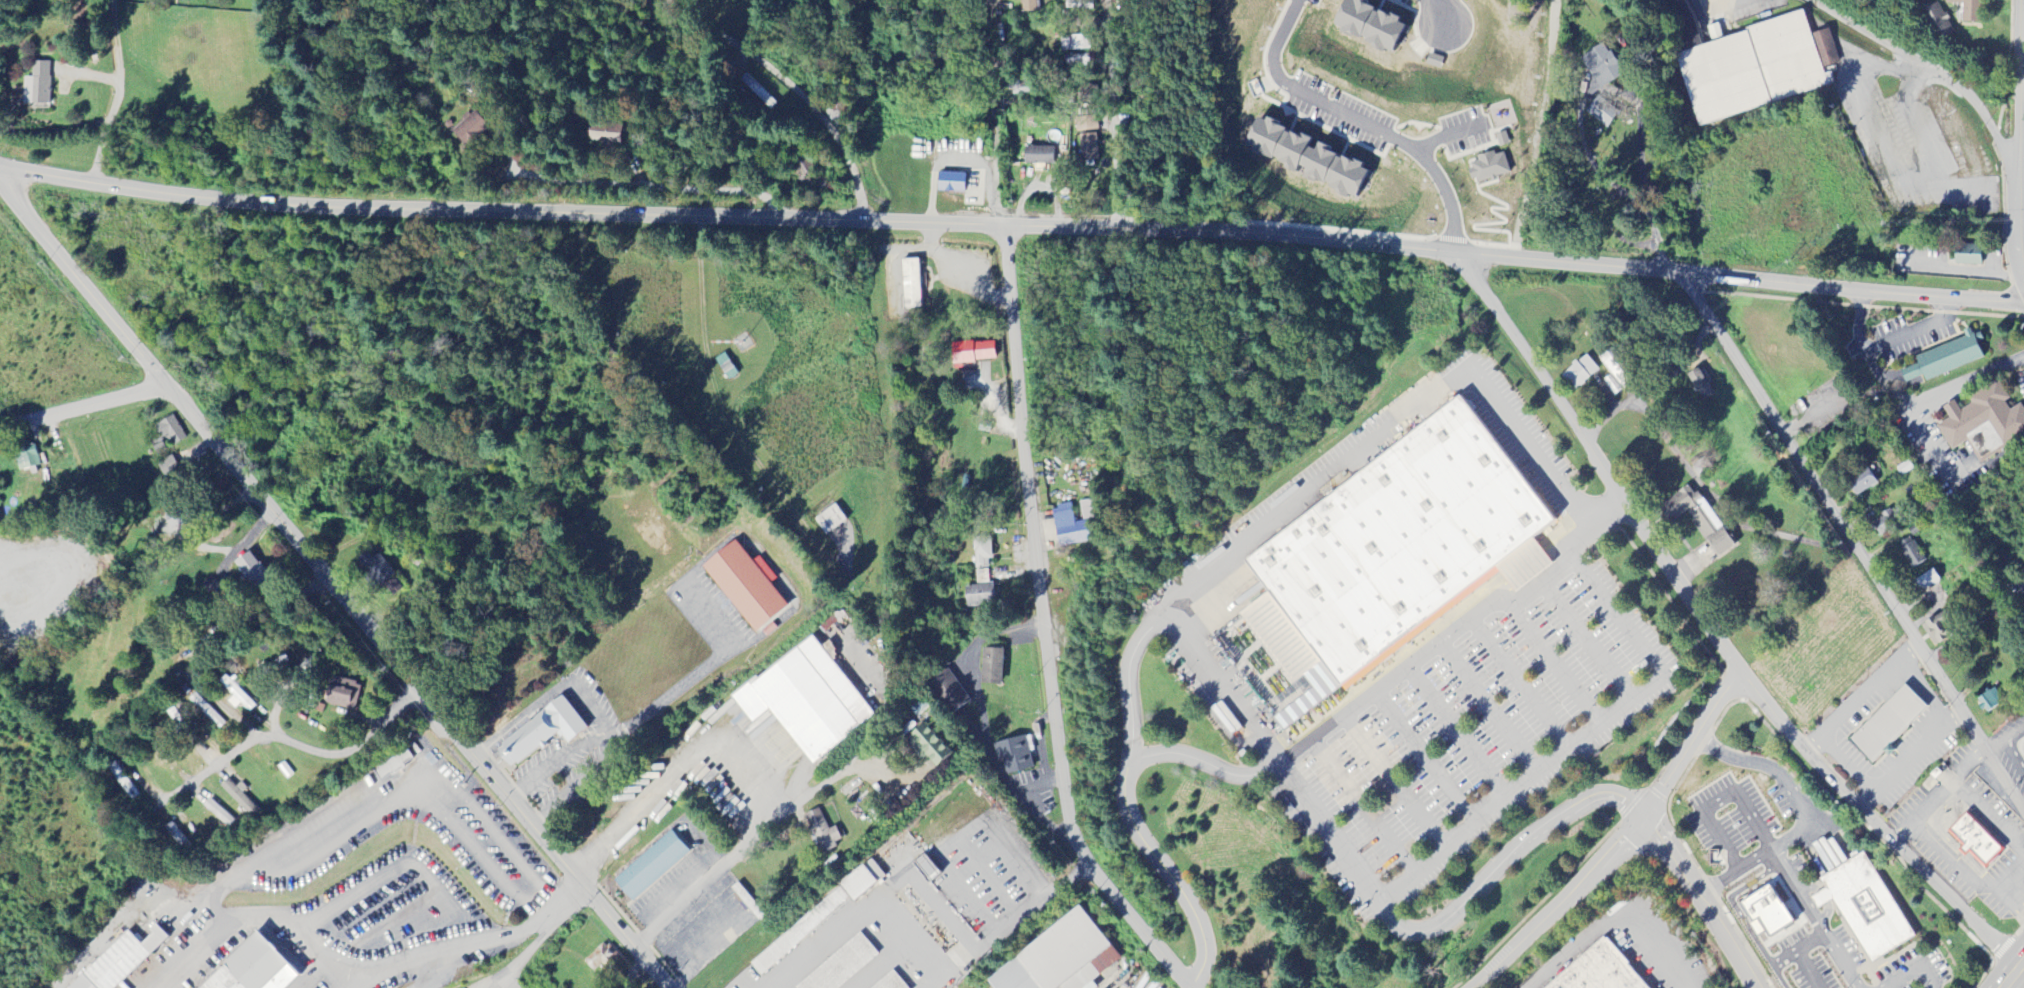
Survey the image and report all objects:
building: (1028, 6)
building: (1968, 10)
road: (1425, 16)
building: (1936, 22)
building: (1366, 25)
road: (1904, 52)
building: (1602, 65)
road: (783, 82)
building: (36, 85)
road: (117, 93)
road: (993, 112)
building: (1600, 113)
road: (1112, 114)
road: (1341, 124)
building: (469, 129)
building: (607, 135)
road: (2019, 138)
building: (1087, 139)
road: (2002, 146)
building: (1037, 156)
building: (1303, 158)
building: (1487, 168)
building: (949, 183)
road: (652, 189)
road: (1637, 191)
road: (1012, 225)
building: (1967, 255)
road: (1147, 262)
building: (910, 284)
road: (1884, 342)
building: (971, 353)
building: (1944, 359)
building: (1614, 371)
building: (1579, 373)
building: (1700, 384)
road: (1934, 399)
road: (84, 409)
building: (1982, 423)
road: (1390, 427)
building: (169, 430)
building: (26, 458)
building: (1861, 482)
building: (1698, 519)
building: (829, 520)
building: (1073, 524)
building: (1884, 524)
road: (1588, 526)
road: (228, 536)
building: (1397, 536)
road: (1848, 541)
building: (982, 553)
building: (1910, 553)
road: (1524, 562)
building: (373, 567)
building: (249, 569)
building: (1926, 581)
road: (330, 584)
road: (1540, 584)
building: (744, 585)
building: (978, 596)
road: (1043, 627)
building: (1937, 629)
road: (1713, 631)
road: (202, 637)
road: (1588, 641)
road: (1550, 658)
building: (991, 666)
road: (693, 675)
road: (1394, 675)
road: (1523, 684)
road: (1220, 685)
road: (1925, 692)
building: (339, 693)
building: (948, 693)
road: (1128, 695)
building: (234, 696)
road: (1860, 696)
building: (805, 700)
road: (1493, 706)
road: (591, 713)
road: (519, 715)
building: (1886, 723)
road: (327, 725)
building: (540, 732)
road: (1459, 733)
parking lot: (1477, 734)
road: (594, 739)
road: (1584, 739)
road: (281, 742)
building: (927, 746)
building: (1013, 755)
road: (1427, 757)
building: (390, 764)
road: (543, 766)
road: (674, 774)
road: (1889, 780)
road: (1396, 781)
road: (575, 787)
road: (381, 792)
building: (237, 796)
road: (1865, 799)
road: (1364, 806)
road: (1135, 809)
building: (218, 813)
traffic signals: (1644, 818)
building: (821, 832)
road: (1328, 837)
road: (758, 838)
building: (1973, 840)
road: (1783, 841)
road: (1623, 843)
road: (316, 849)
road: (1511, 852)
building: (650, 867)
road: (1737, 869)
road: (420, 876)
road: (1704, 901)
building: (1864, 906)
building: (1765, 913)
building: (816, 919)
road: (264, 921)
road: (1611, 927)
road: (482, 945)
building: (120, 958)
building: (599, 958)
building: (1059, 958)
building: (254, 963)
building: (841, 965)
building: (1601, 971)
road: (1907, 972)
road: (2013, 973)
road: (356, 978)
building: (219, 980)
building: (79, 982)
building: (890, 982)

